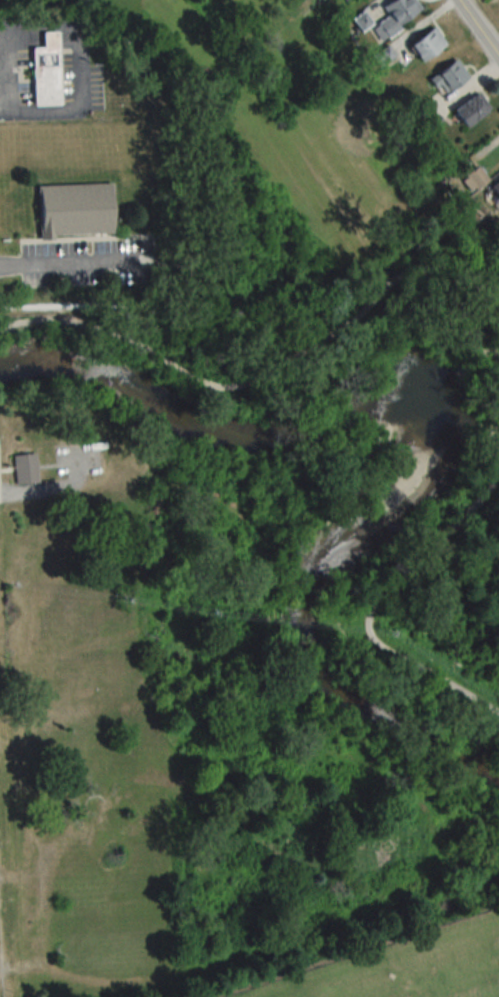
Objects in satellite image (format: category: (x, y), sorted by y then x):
building: (345, 0)
building: (390, 17)
building: (359, 20)
road: (1, 25)
road: (477, 29)
building: (422, 44)
building: (382, 55)
road: (4, 68)
road: (78, 69)
building: (45, 73)
building: (447, 76)
building: (465, 111)
building: (466, 179)
building: (492, 189)
building: (70, 210)
road: (76, 262)
road: (476, 357)
road: (266, 371)
river: (436, 441)
building: (23, 468)
road: (42, 490)
road: (395, 586)
park: (168, 714)

